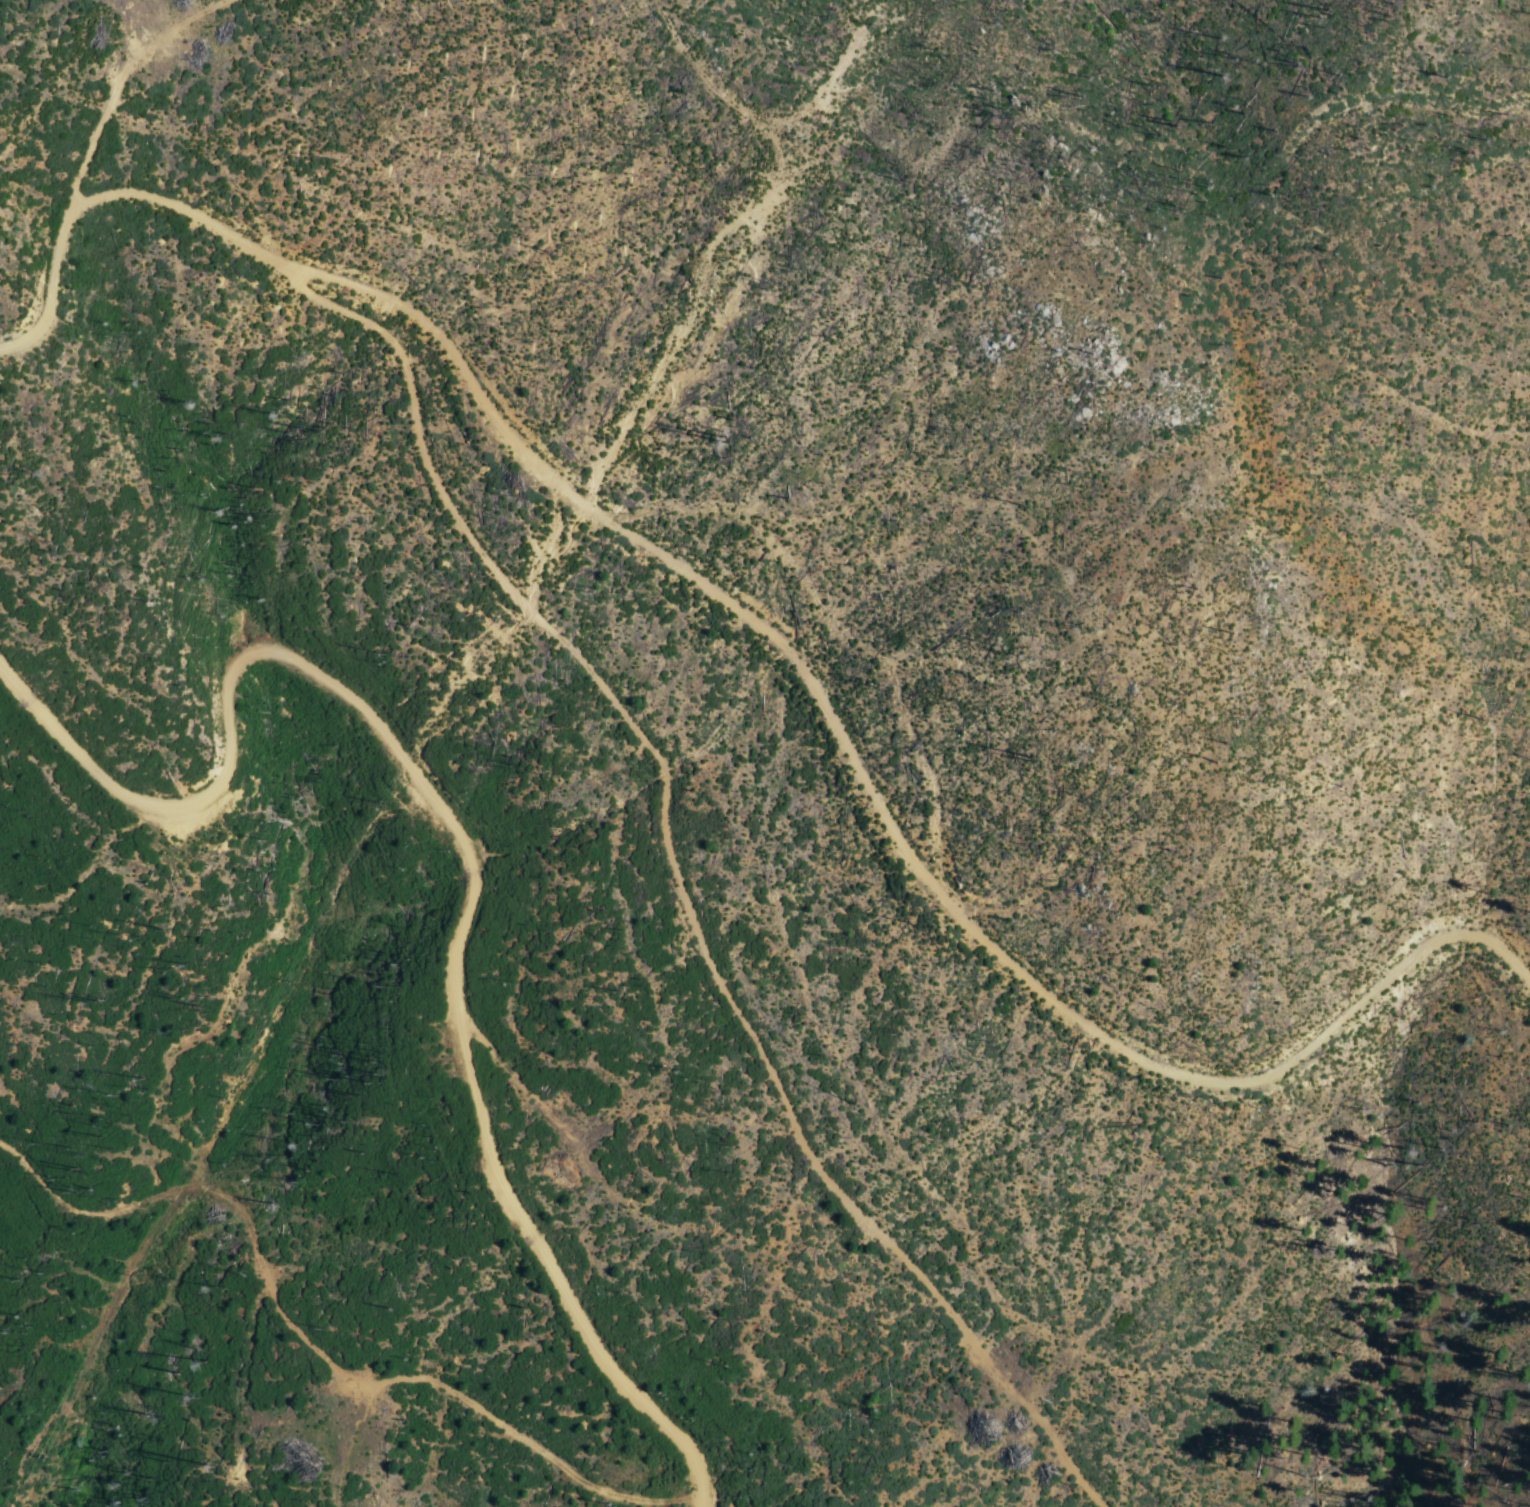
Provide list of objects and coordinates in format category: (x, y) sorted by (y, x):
road: (118, 87)
road: (771, 636)
road: (465, 850)
road: (678, 881)
road: (462, 1398)

